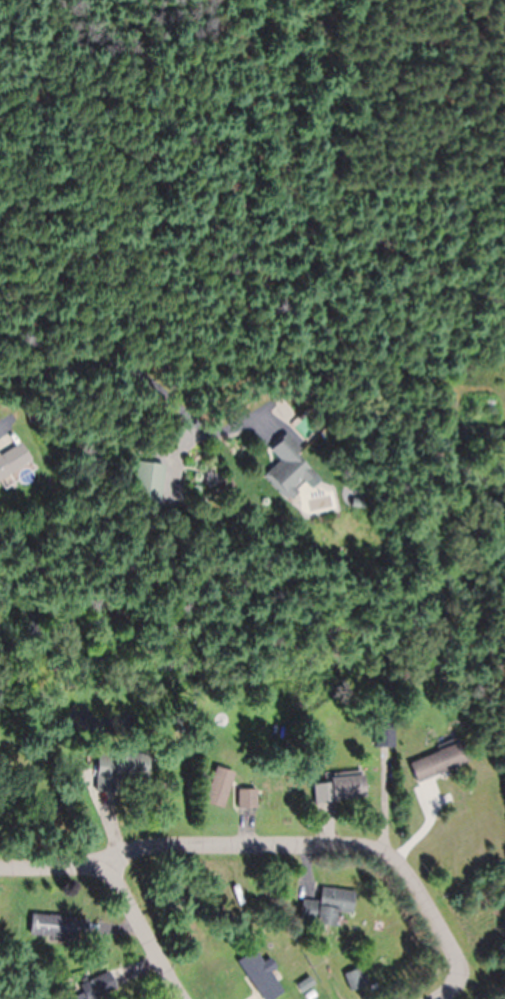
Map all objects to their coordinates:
building: (13, 459)
building: (288, 468)
building: (148, 483)
building: (384, 736)
building: (439, 762)
building: (119, 769)
building: (219, 787)
building: (339, 789)
road: (265, 845)
building: (327, 907)
building: (56, 926)
road: (144, 933)
building: (262, 975)
building: (356, 980)
building: (99, 988)
road: (445, 989)

